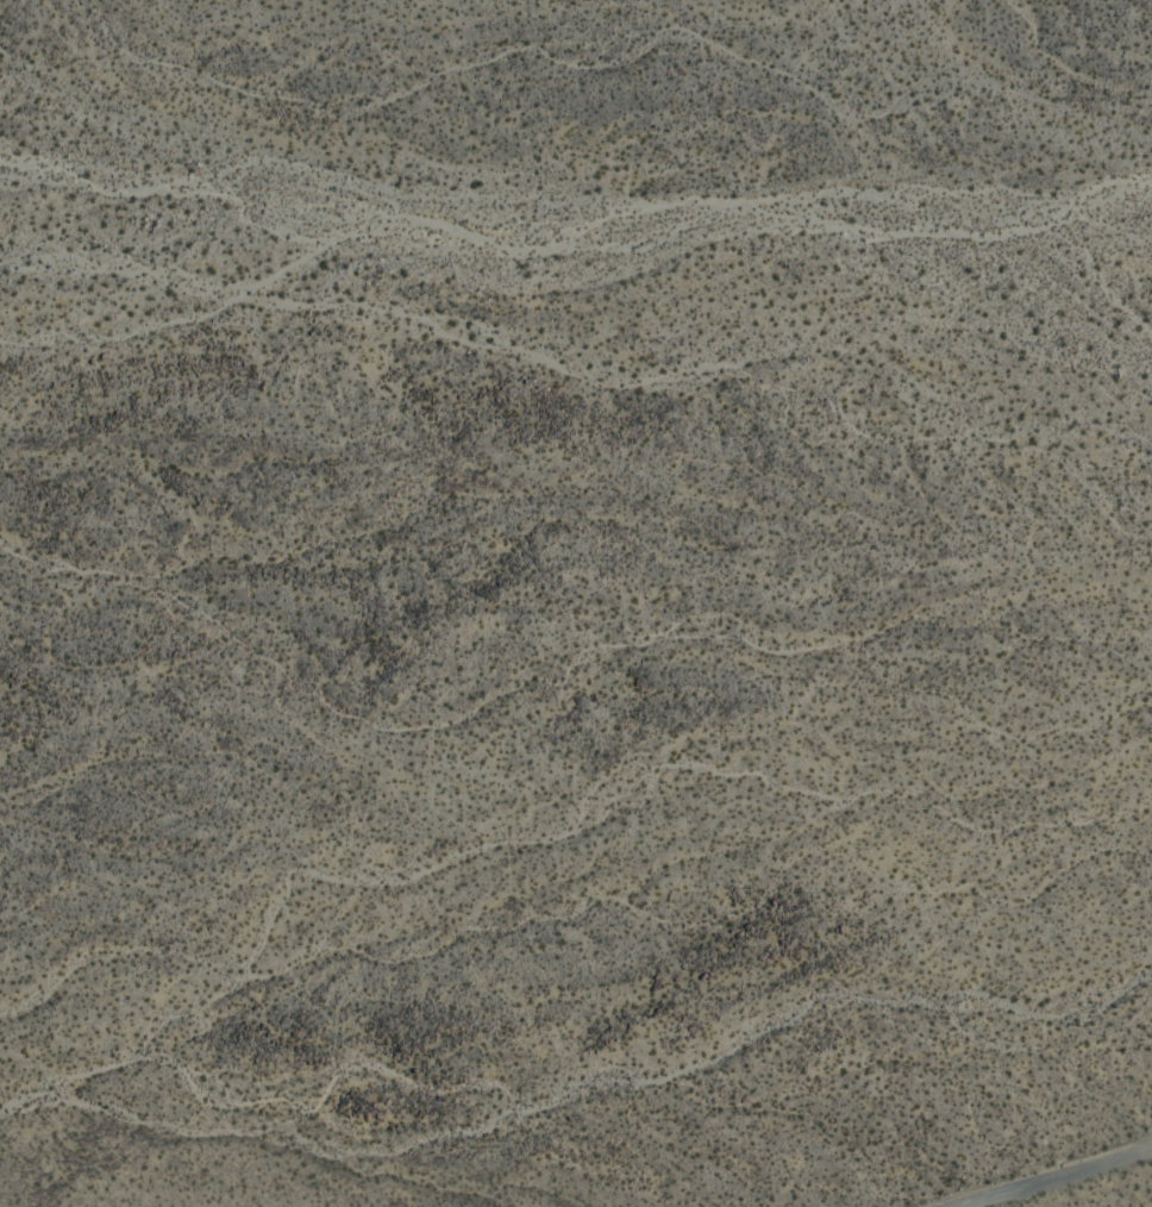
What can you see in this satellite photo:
road: (1057, 1176)

